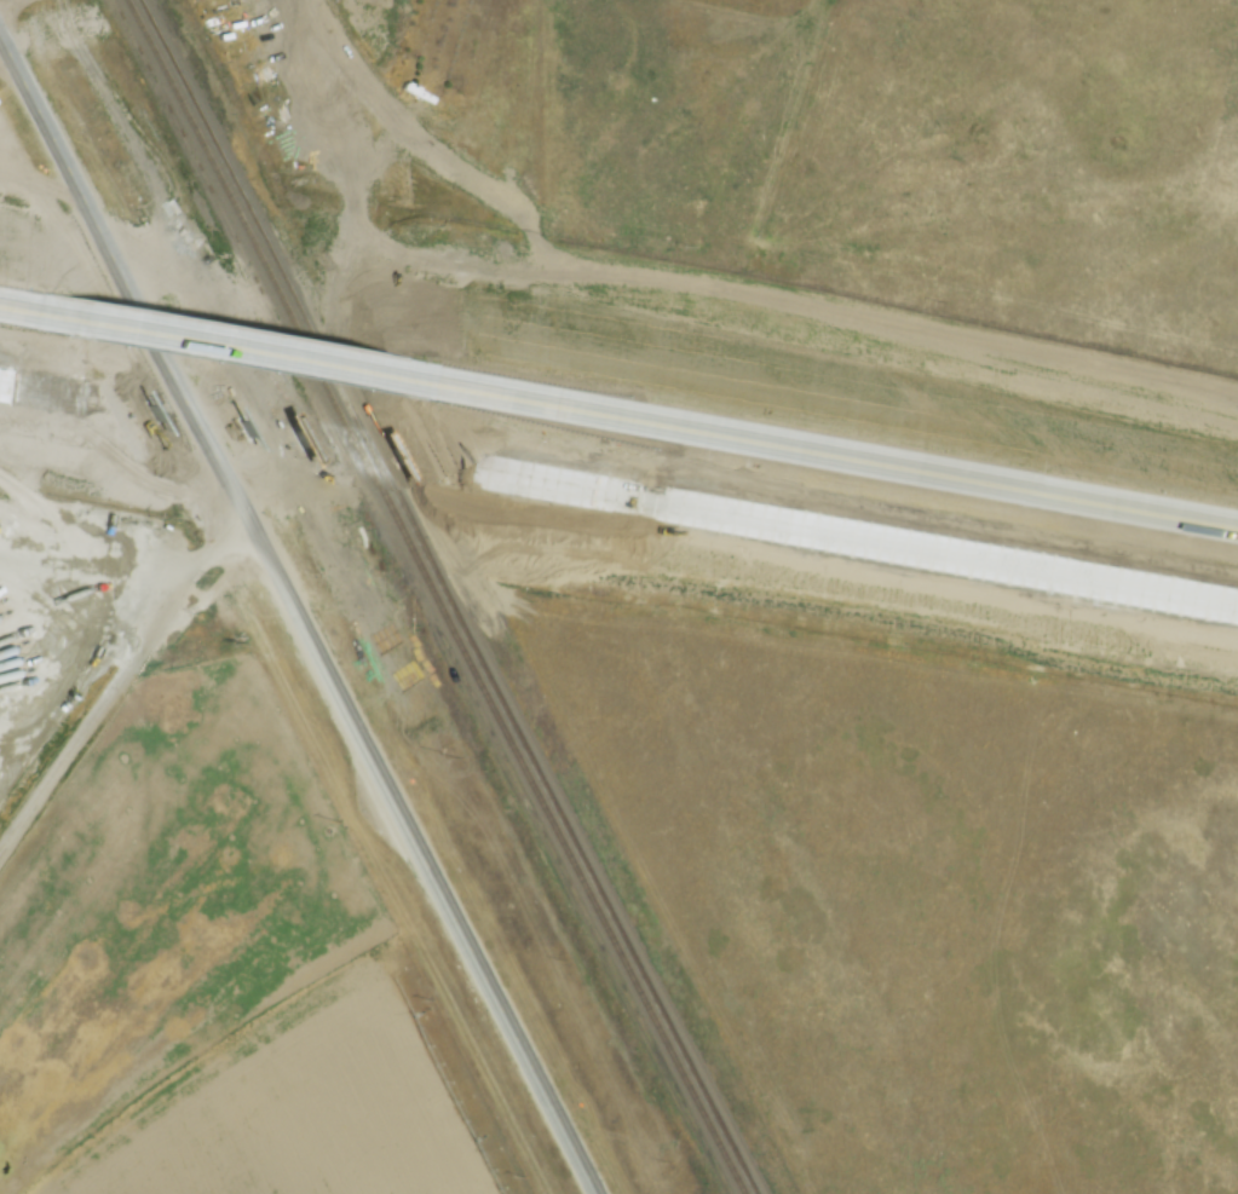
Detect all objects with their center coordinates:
road: (36, 313)
road: (248, 352)
road: (57, 392)
road: (275, 431)
road: (830, 457)
road: (836, 531)
railway: (438, 595)
railway: (453, 598)
road: (300, 611)
crop: (59, 624)
road: (122, 677)
crop: (215, 979)

